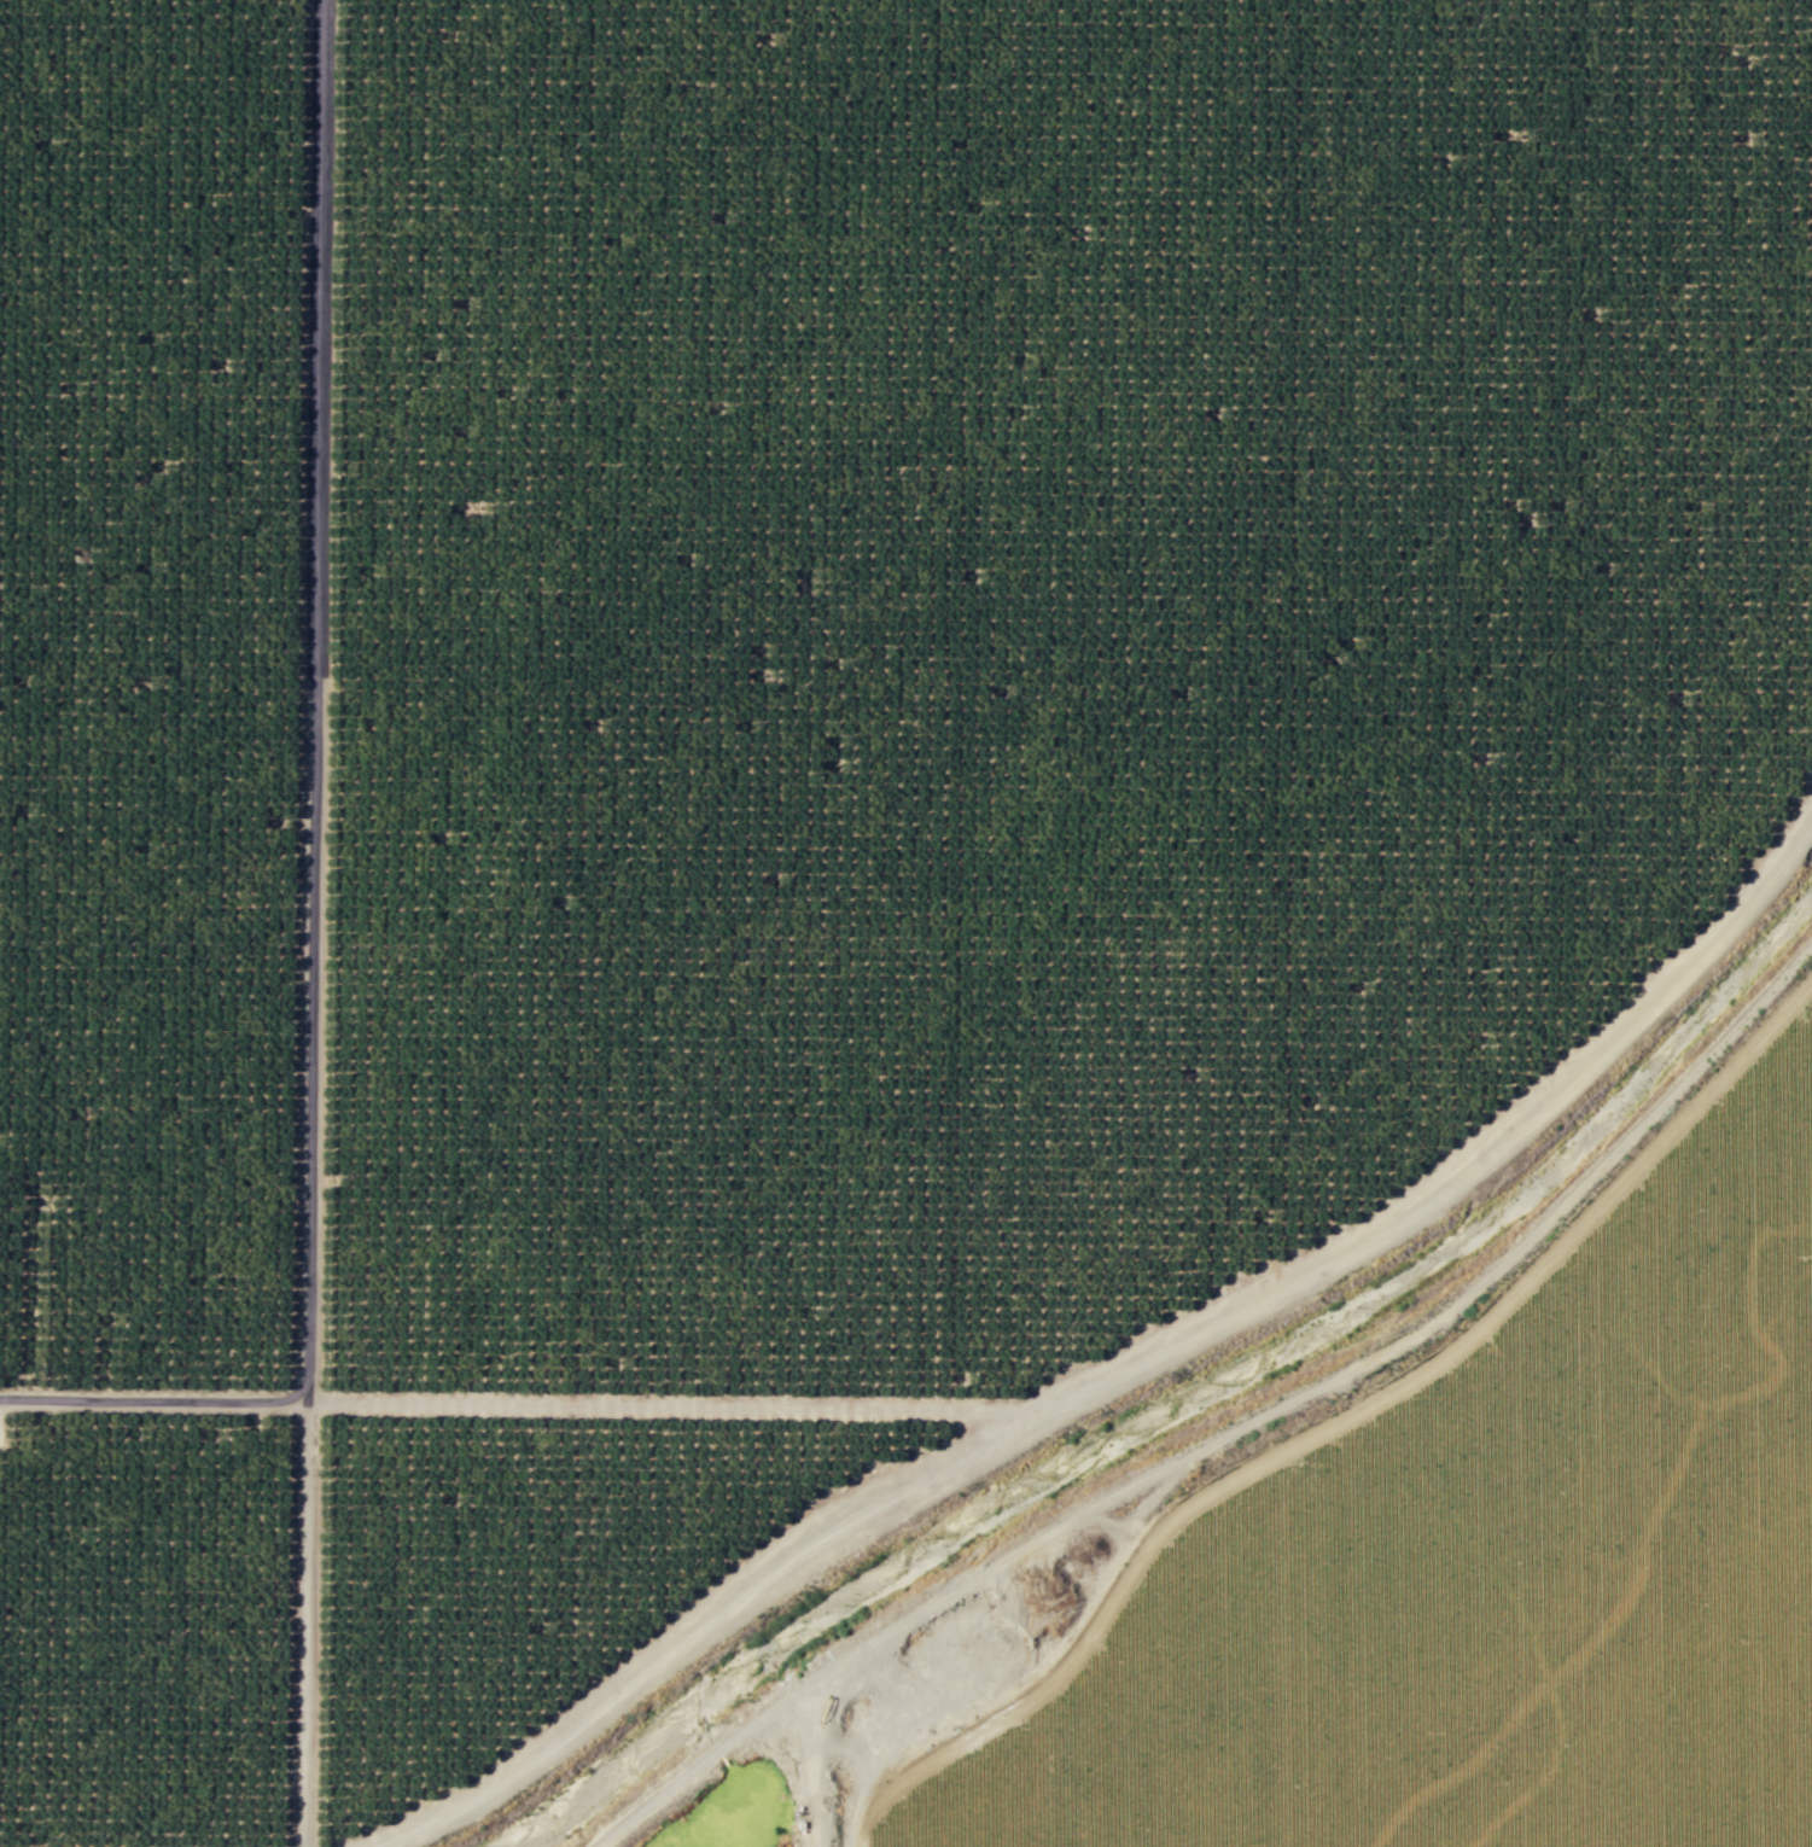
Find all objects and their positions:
road: (309, 923)
road: (1435, 1194)
road: (1420, 1328)
road: (153, 1400)
road: (678, 1405)
road: (874, 1639)
road: (672, 1642)
road: (705, 1760)

